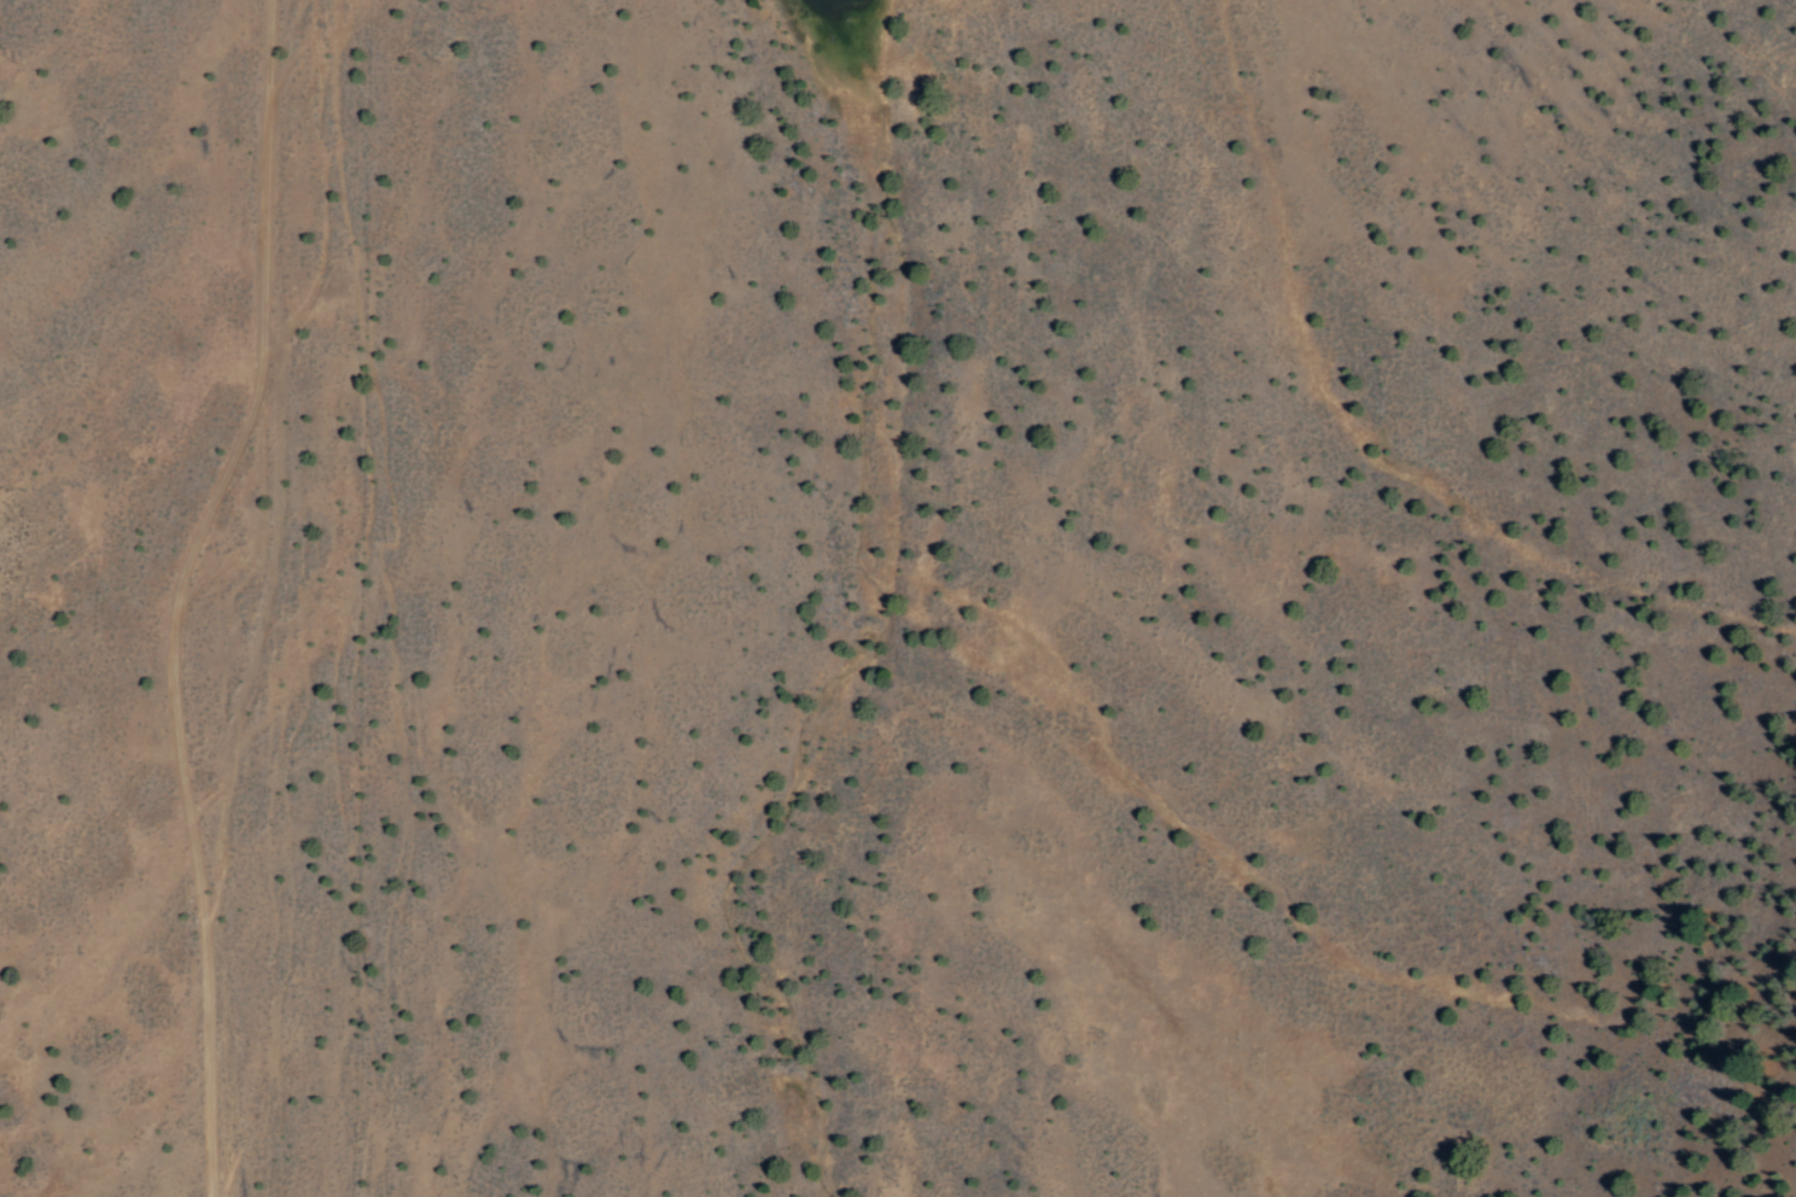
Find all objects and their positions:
road: (181, 591)

